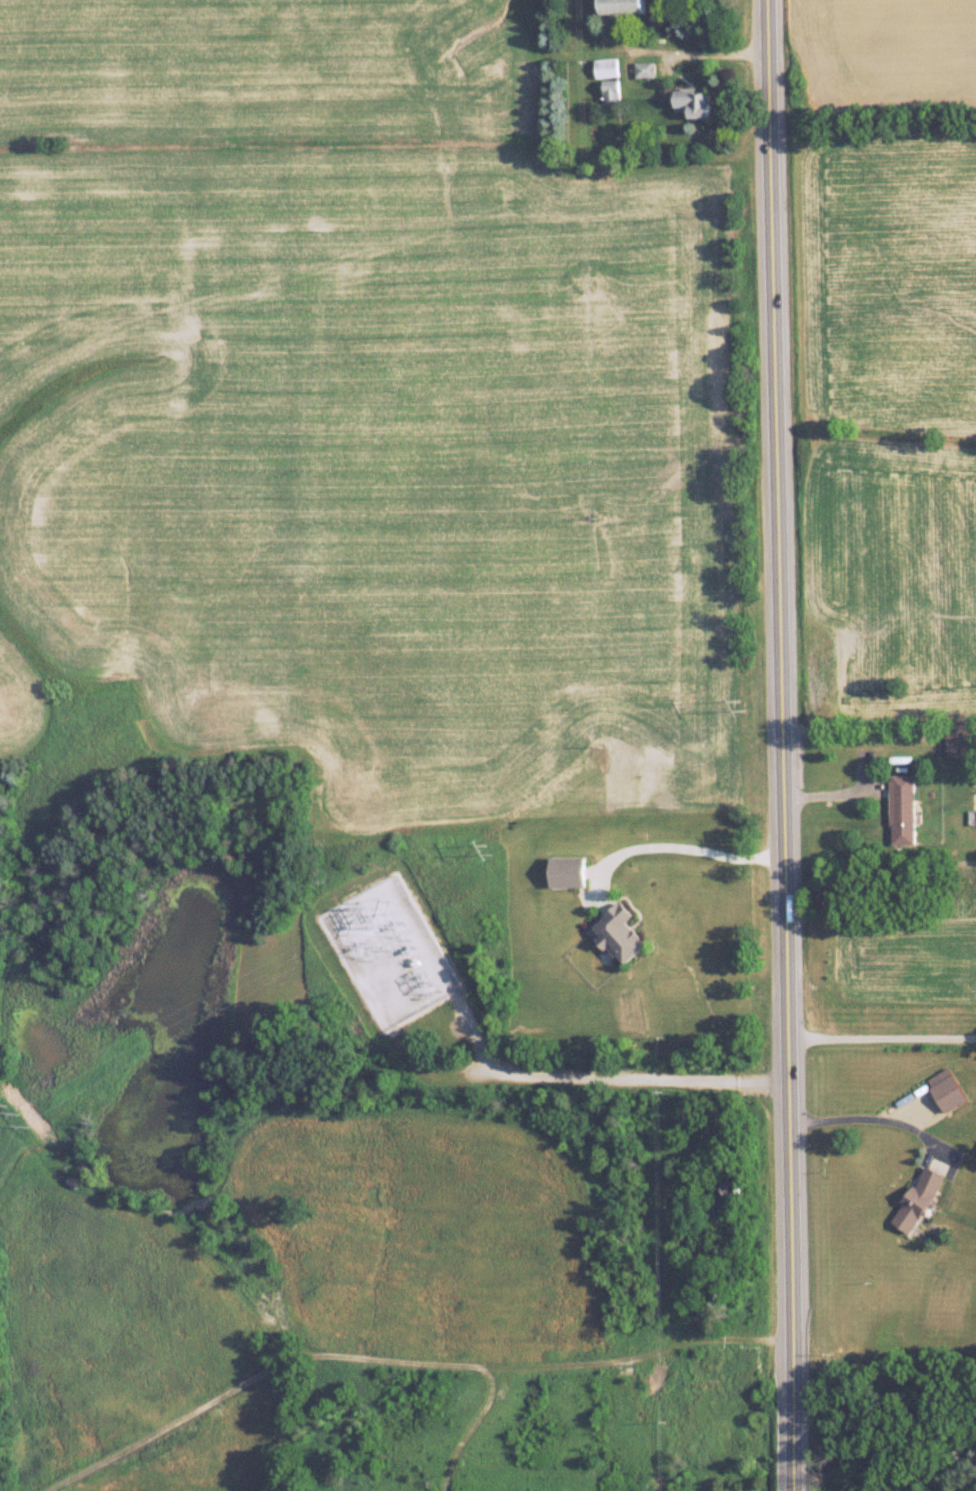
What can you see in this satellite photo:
building: (624, 6)
road: (721, 56)
building: (606, 67)
building: (644, 68)
building: (695, 101)
power tower: (742, 707)
building: (961, 740)
road: (782, 745)
road: (839, 789)
building: (903, 809)
power tower: (488, 847)
road: (690, 850)
building: (567, 871)
building: (618, 933)
power substation: (387, 953)
road: (881, 1048)
road: (594, 1079)
building: (946, 1089)
power tower: (17, 1111)
road: (866, 1122)
building: (733, 1189)
building: (917, 1199)

